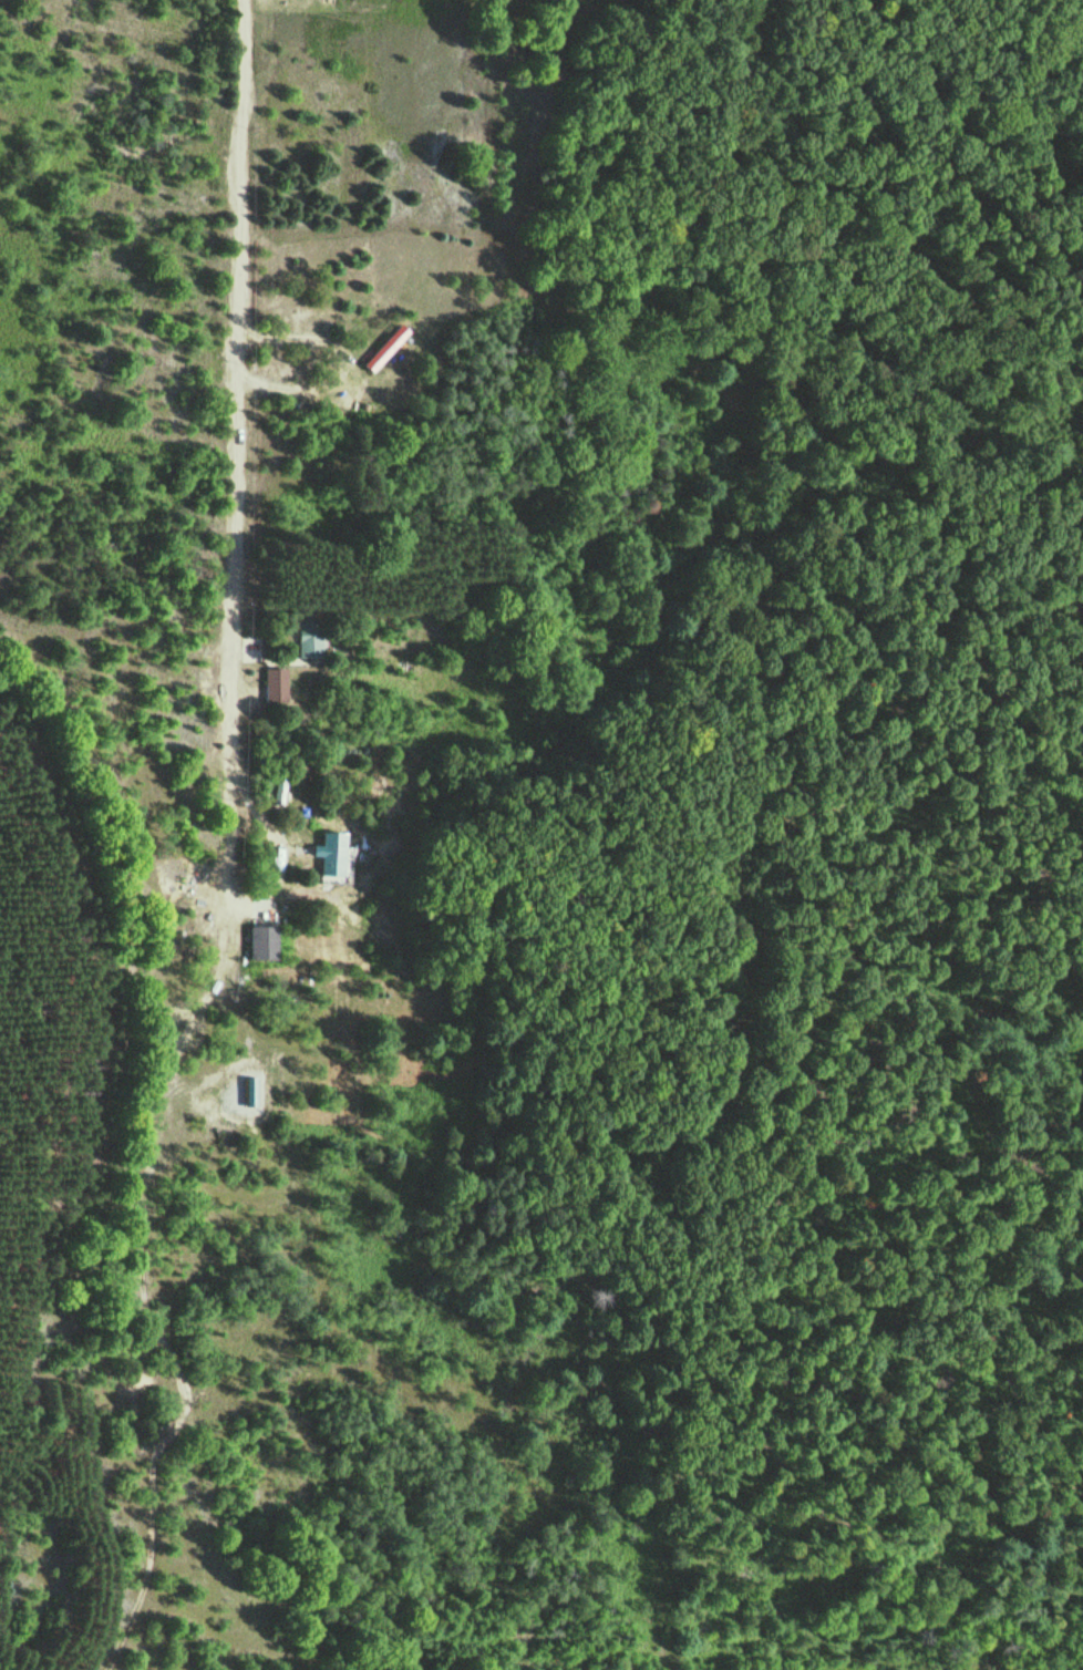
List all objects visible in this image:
building: (383, 347)
road: (240, 478)
building: (308, 637)
building: (272, 683)
building: (329, 853)
building: (260, 941)
road: (154, 1123)

